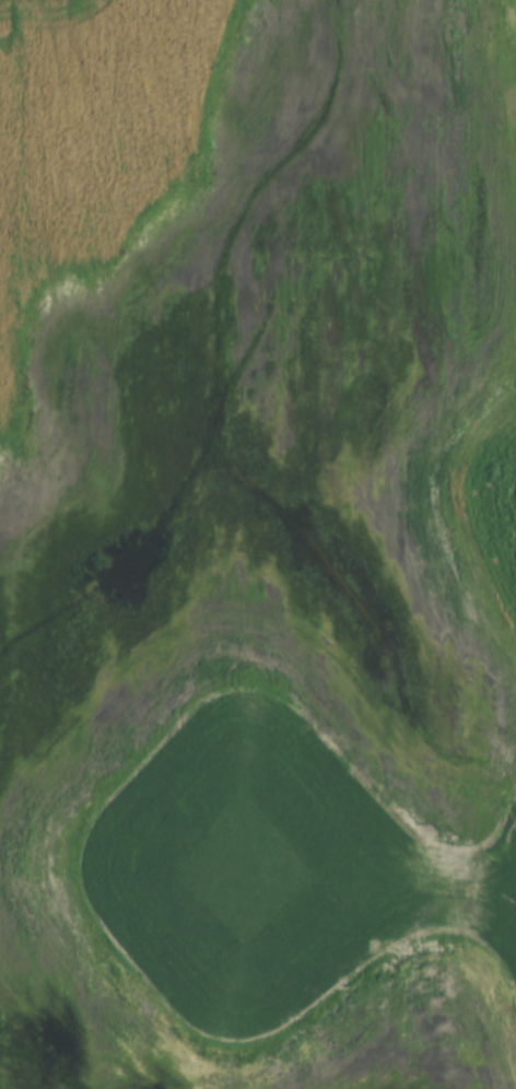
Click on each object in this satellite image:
crop: (468, 542)

